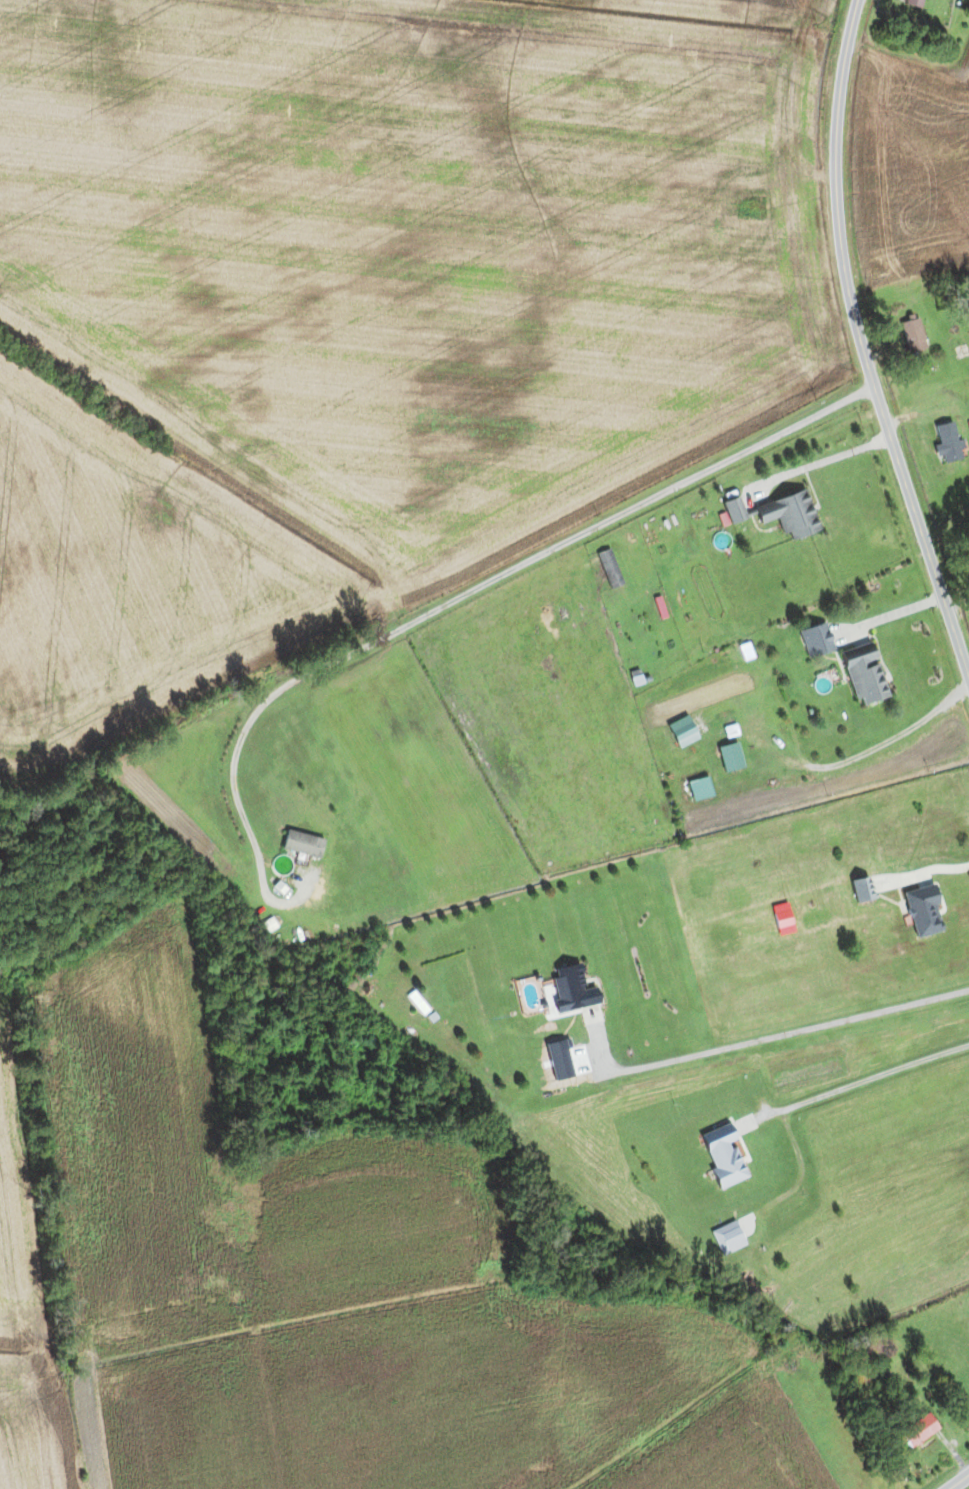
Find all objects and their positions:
building: (915, 3)
building: (913, 334)
road: (862, 342)
building: (948, 443)
building: (734, 510)
building: (790, 514)
building: (610, 568)
building: (864, 674)
road: (879, 744)
building: (700, 789)
building: (862, 889)
building: (572, 989)
building: (724, 1156)
building: (728, 1238)
building: (920, 1430)
road: (958, 1481)

